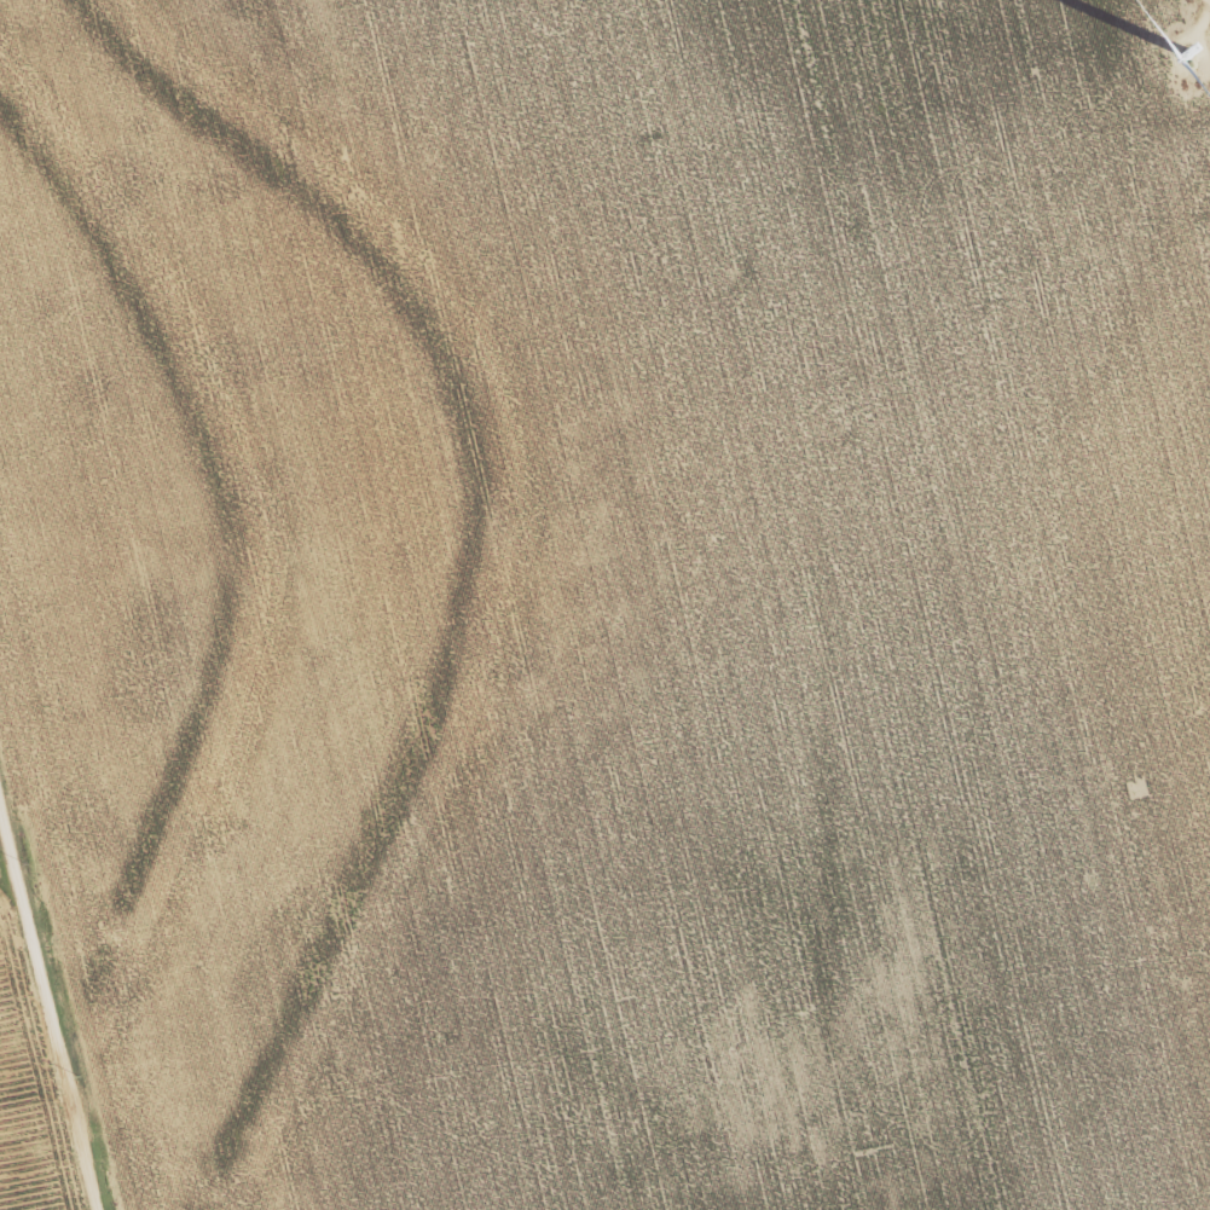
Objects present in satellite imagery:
wind turbine: (1177, 46)
road: (50, 1001)

